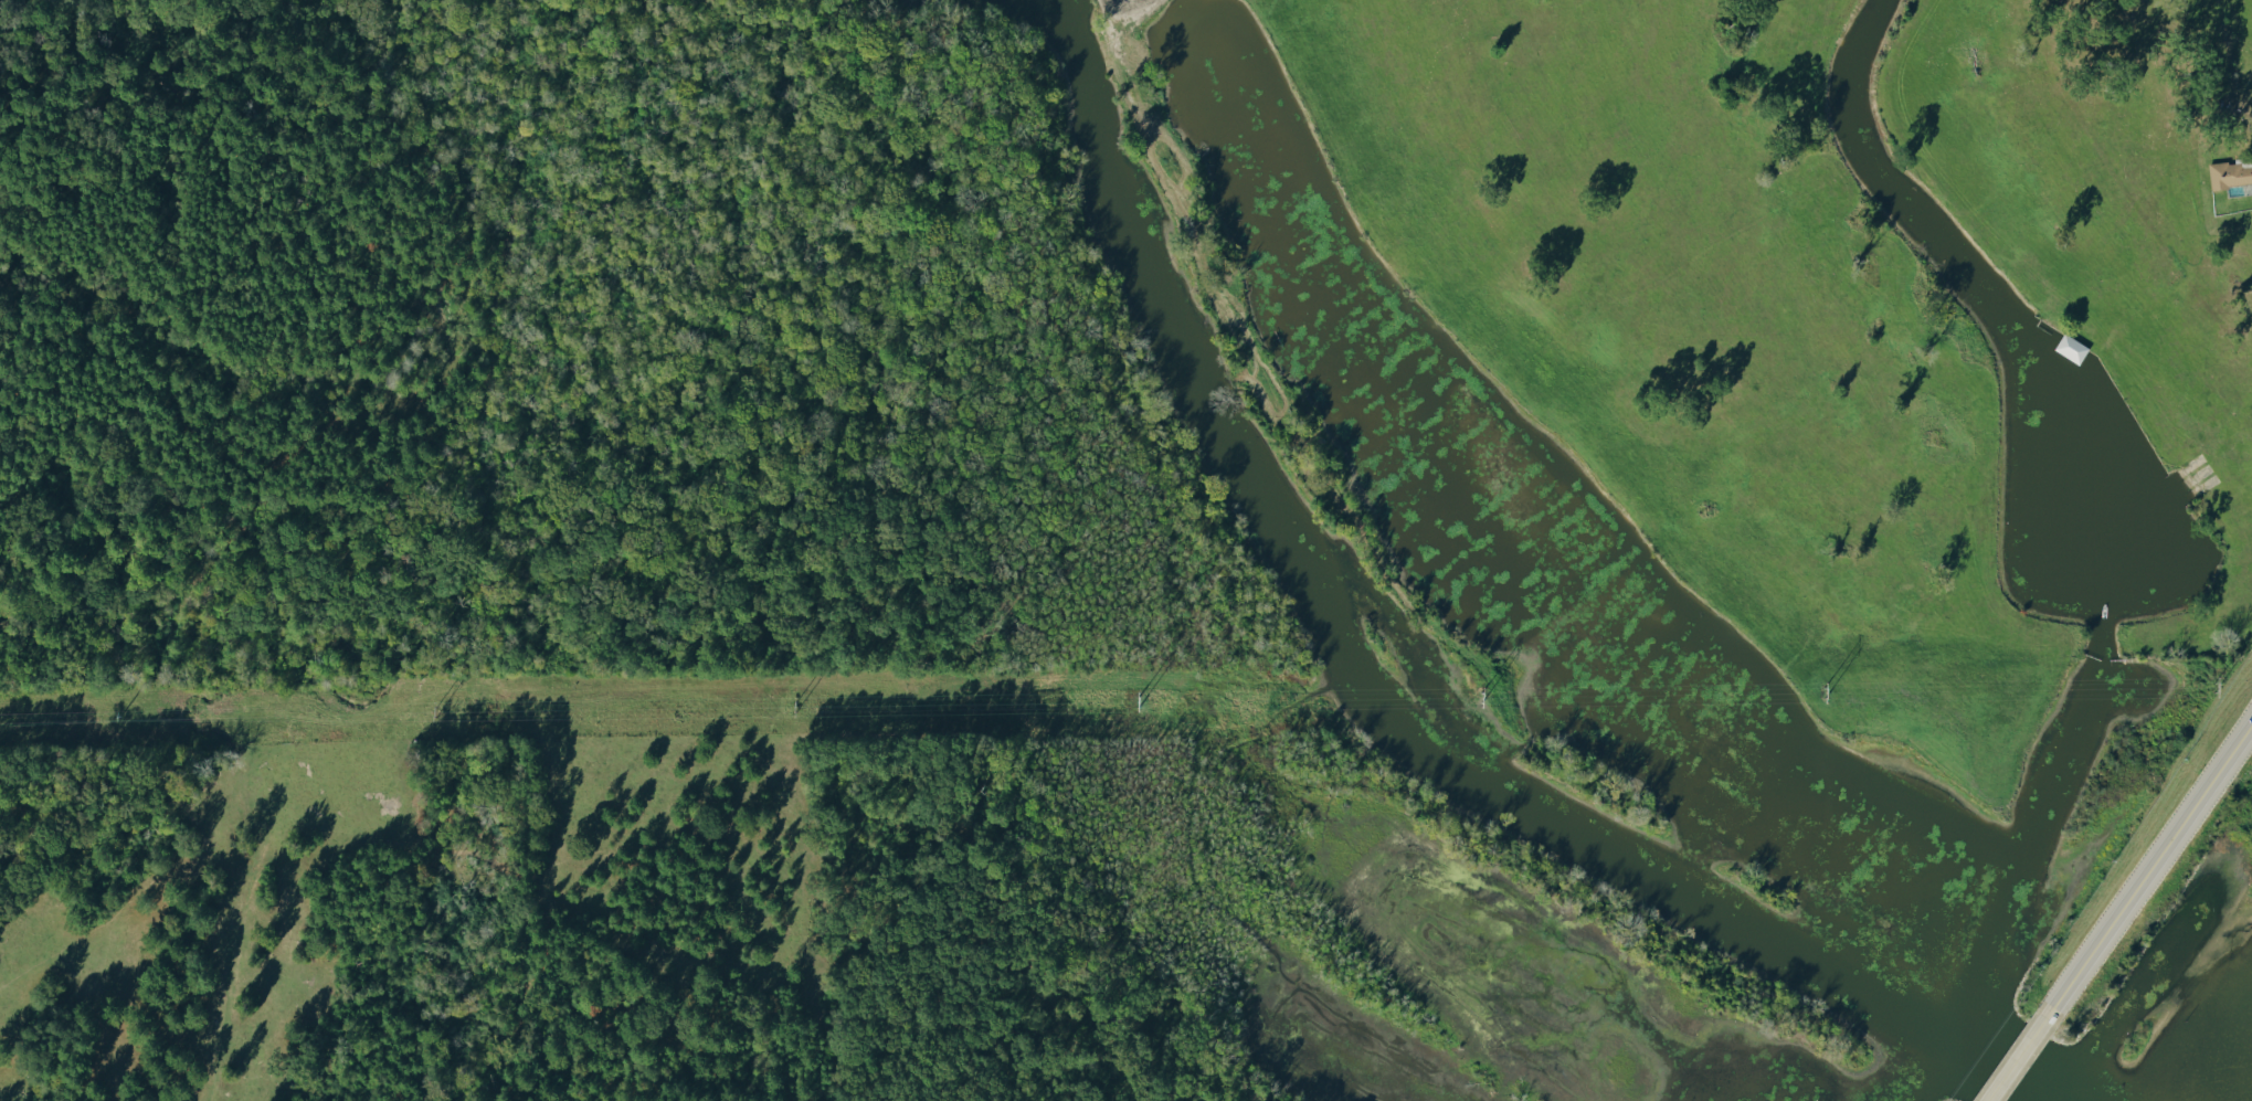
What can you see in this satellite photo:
building: (2066, 348)
power tower: (2209, 691)
power tower: (1830, 701)
power tower: (1134, 703)
power tower: (1473, 705)
power tower: (110, 722)
power tower: (797, 722)
power tower: (442, 731)
road: (2149, 868)
road: (2018, 1058)

